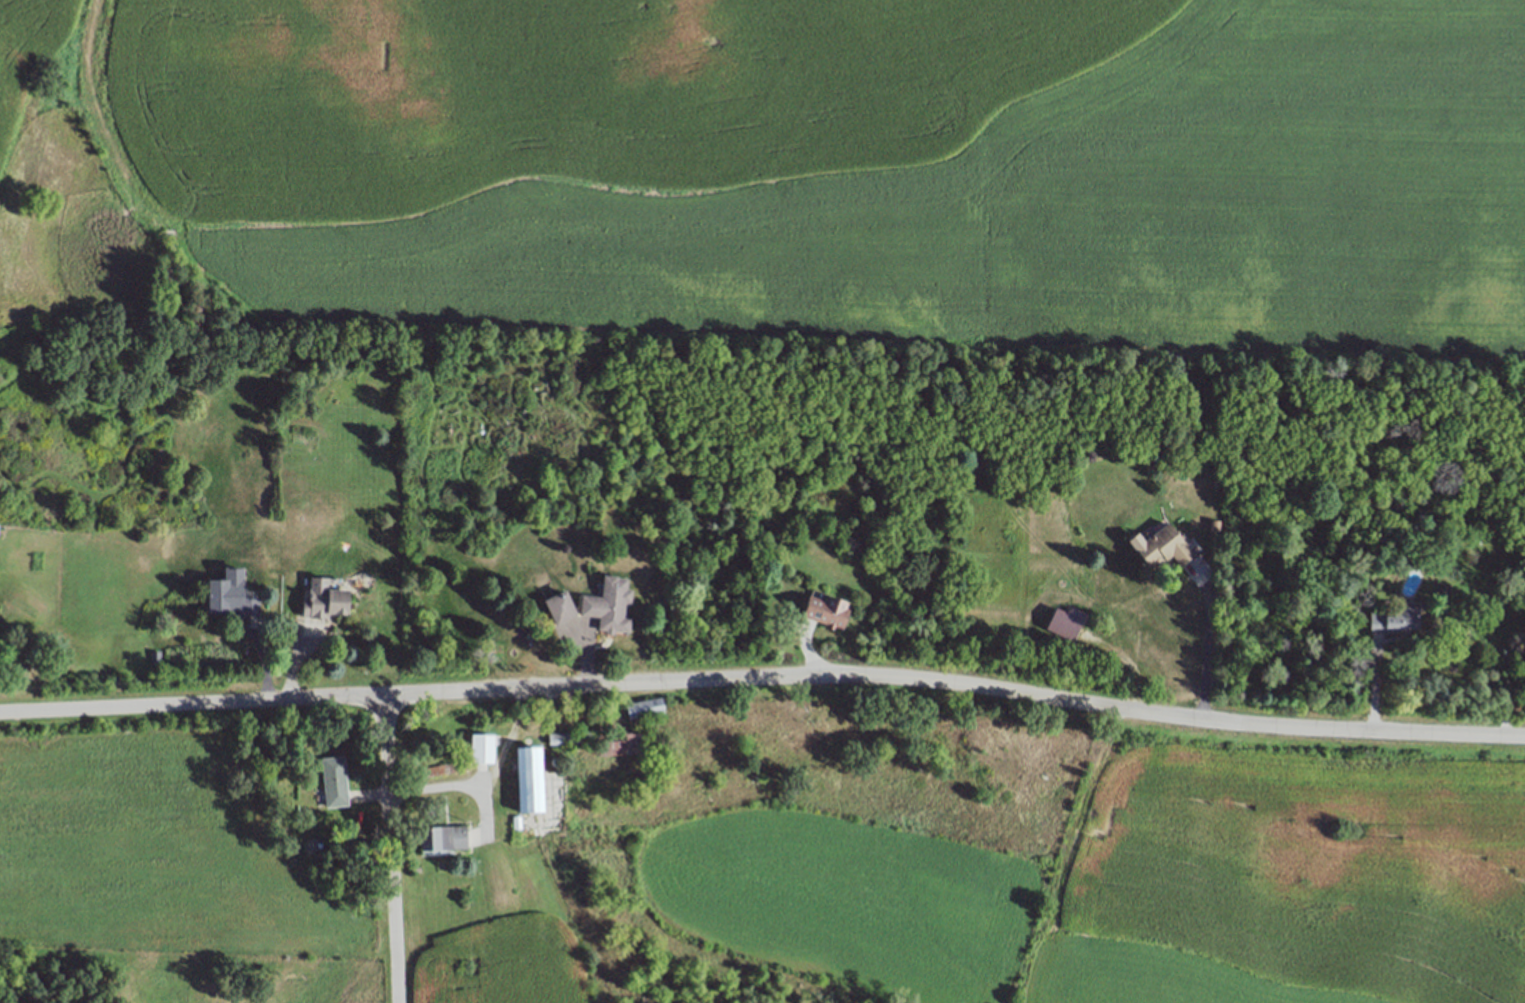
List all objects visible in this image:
crop: (841, 178)
building: (1165, 546)
building: (323, 598)
building: (232, 599)
building: (608, 606)
building: (559, 607)
building: (827, 611)
building: (1394, 620)
building: (1064, 626)
road: (1208, 646)
building: (154, 656)
road: (763, 679)
building: (644, 707)
building: (569, 736)
building: (618, 743)
building: (479, 746)
building: (592, 748)
building: (444, 767)
building: (526, 775)
building: (333, 781)
road: (456, 785)
building: (516, 821)
building: (441, 836)
road: (390, 851)
road: (1074, 855)
building: (414, 869)
crop: (1065, 883)

